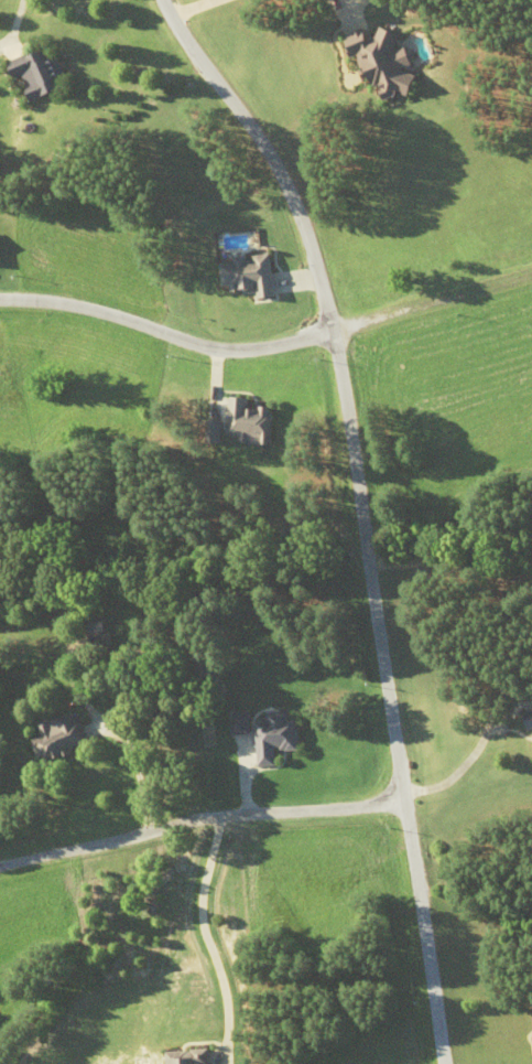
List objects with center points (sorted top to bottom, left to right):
road: (20, 19)
building: (41, 74)
road: (267, 350)
road: (360, 509)
building: (96, 642)
building: (530, 707)
building: (273, 738)
building: (58, 741)
road: (198, 824)
building: (185, 1057)

